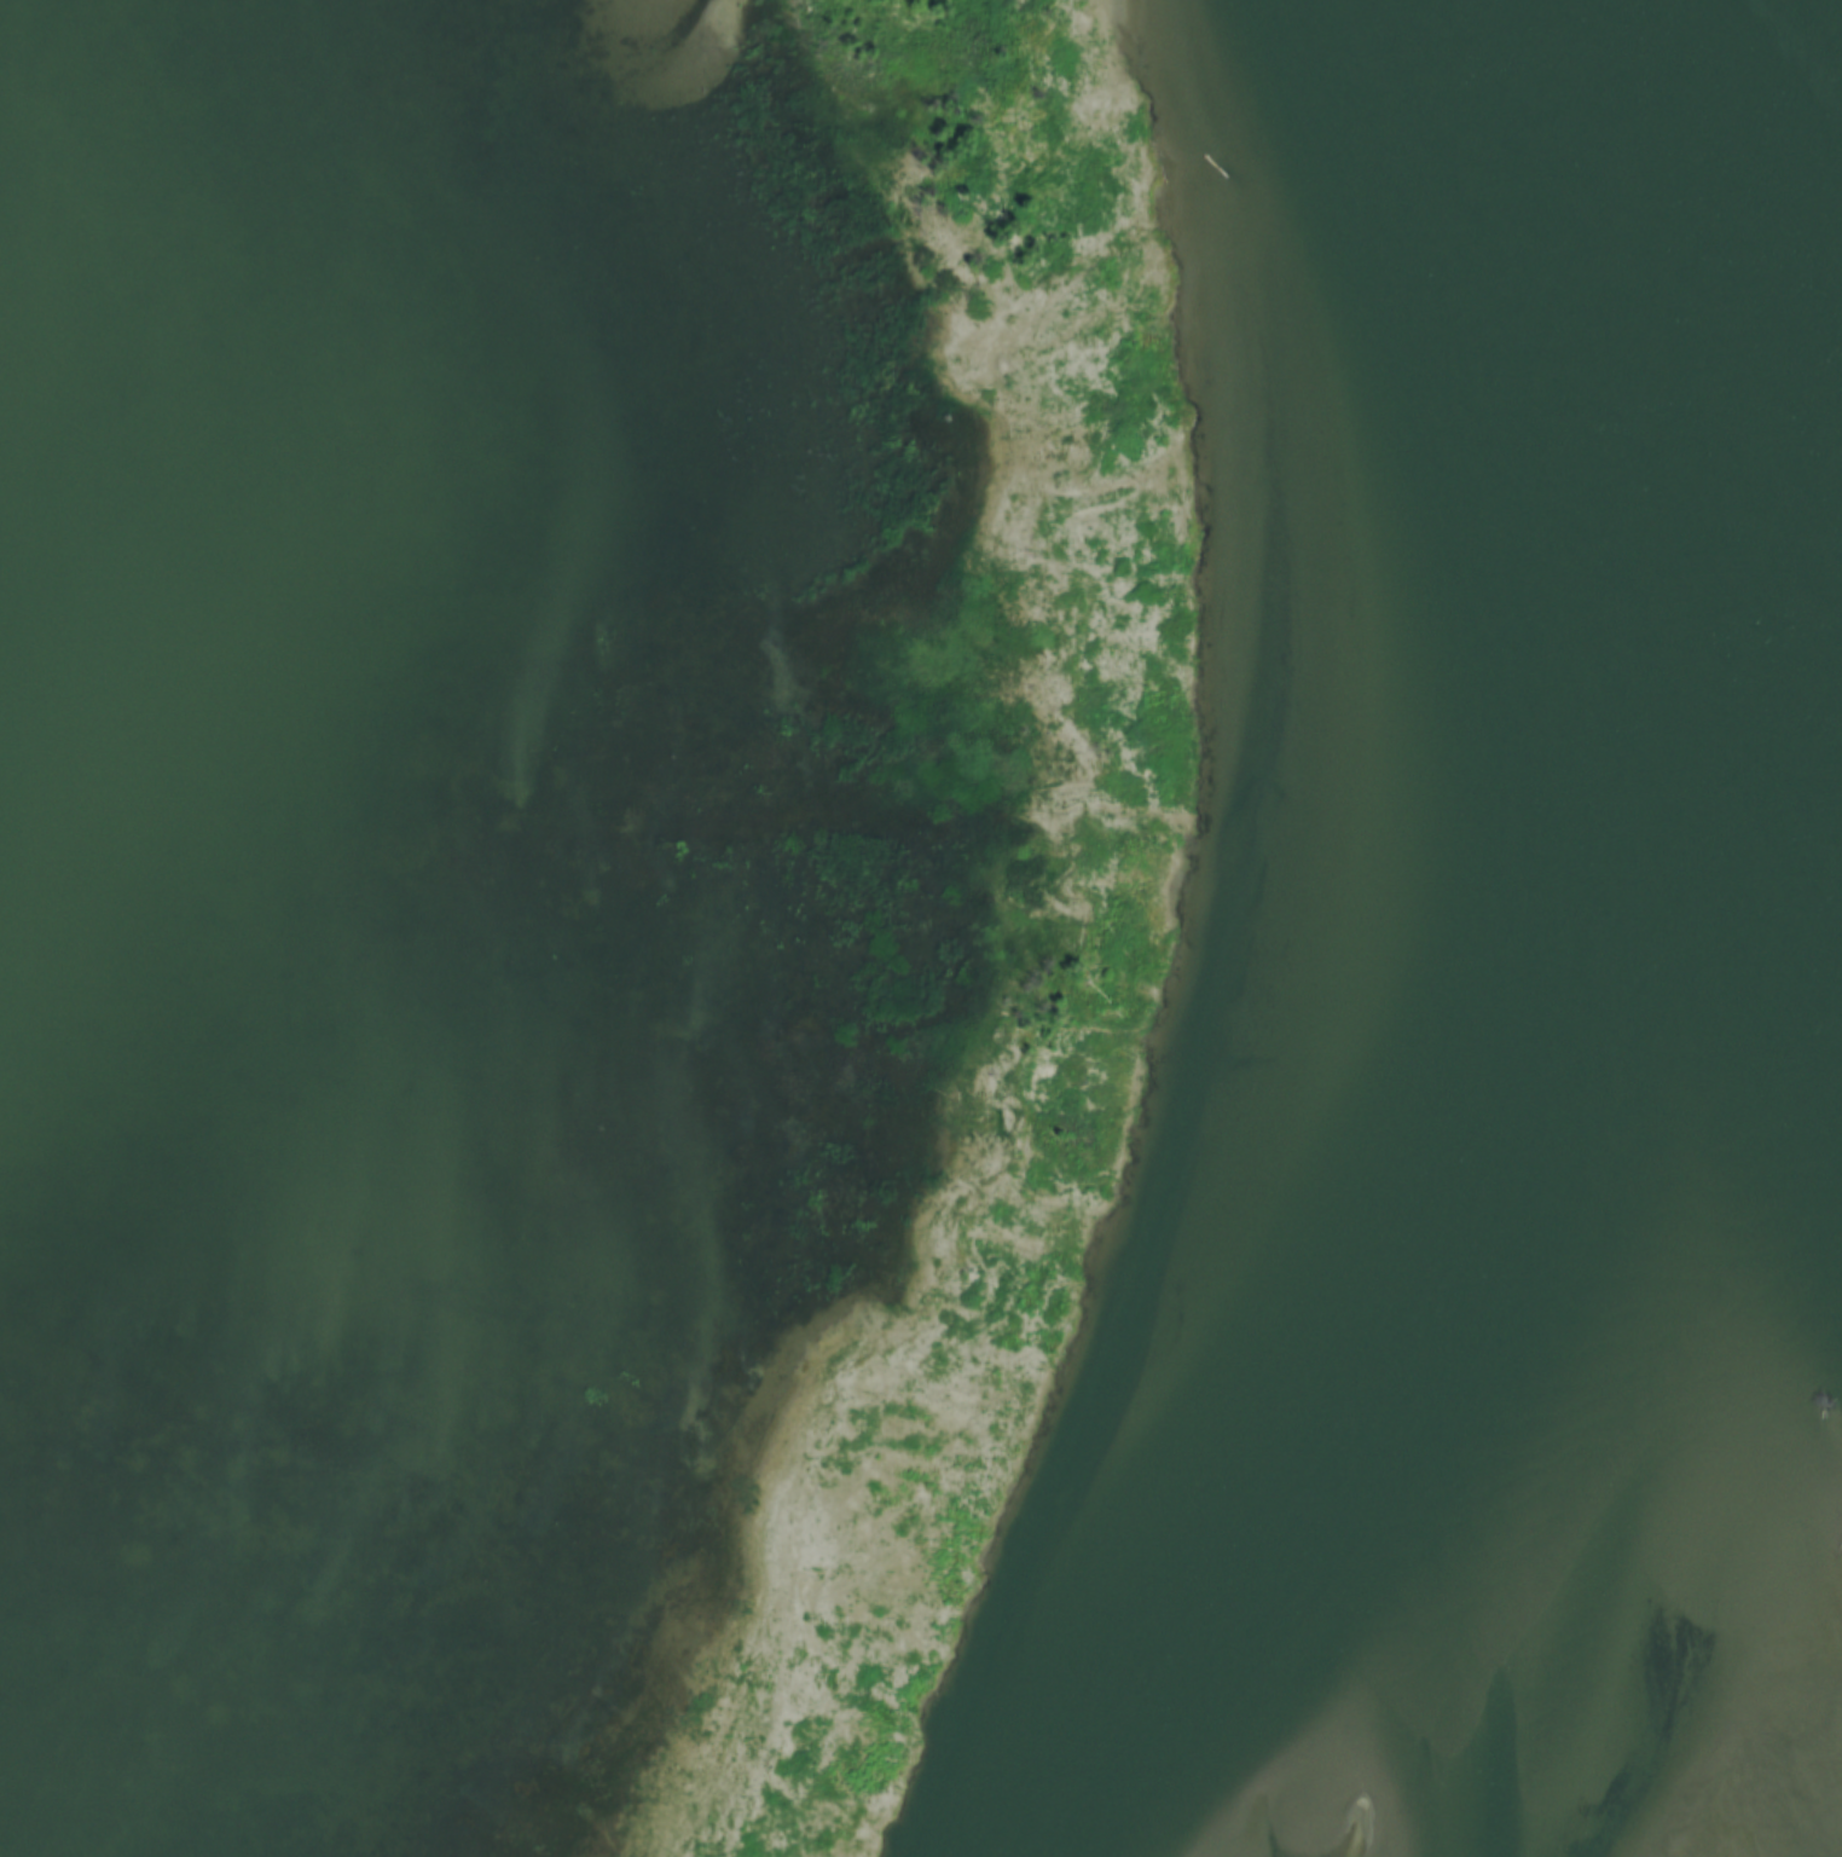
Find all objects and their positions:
river: (1766, 950)

